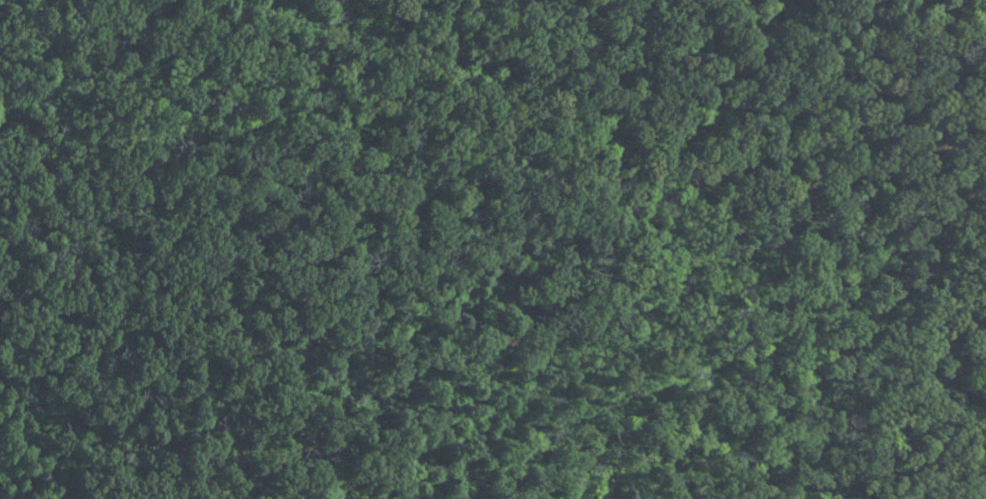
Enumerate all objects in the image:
road: (210, 331)

